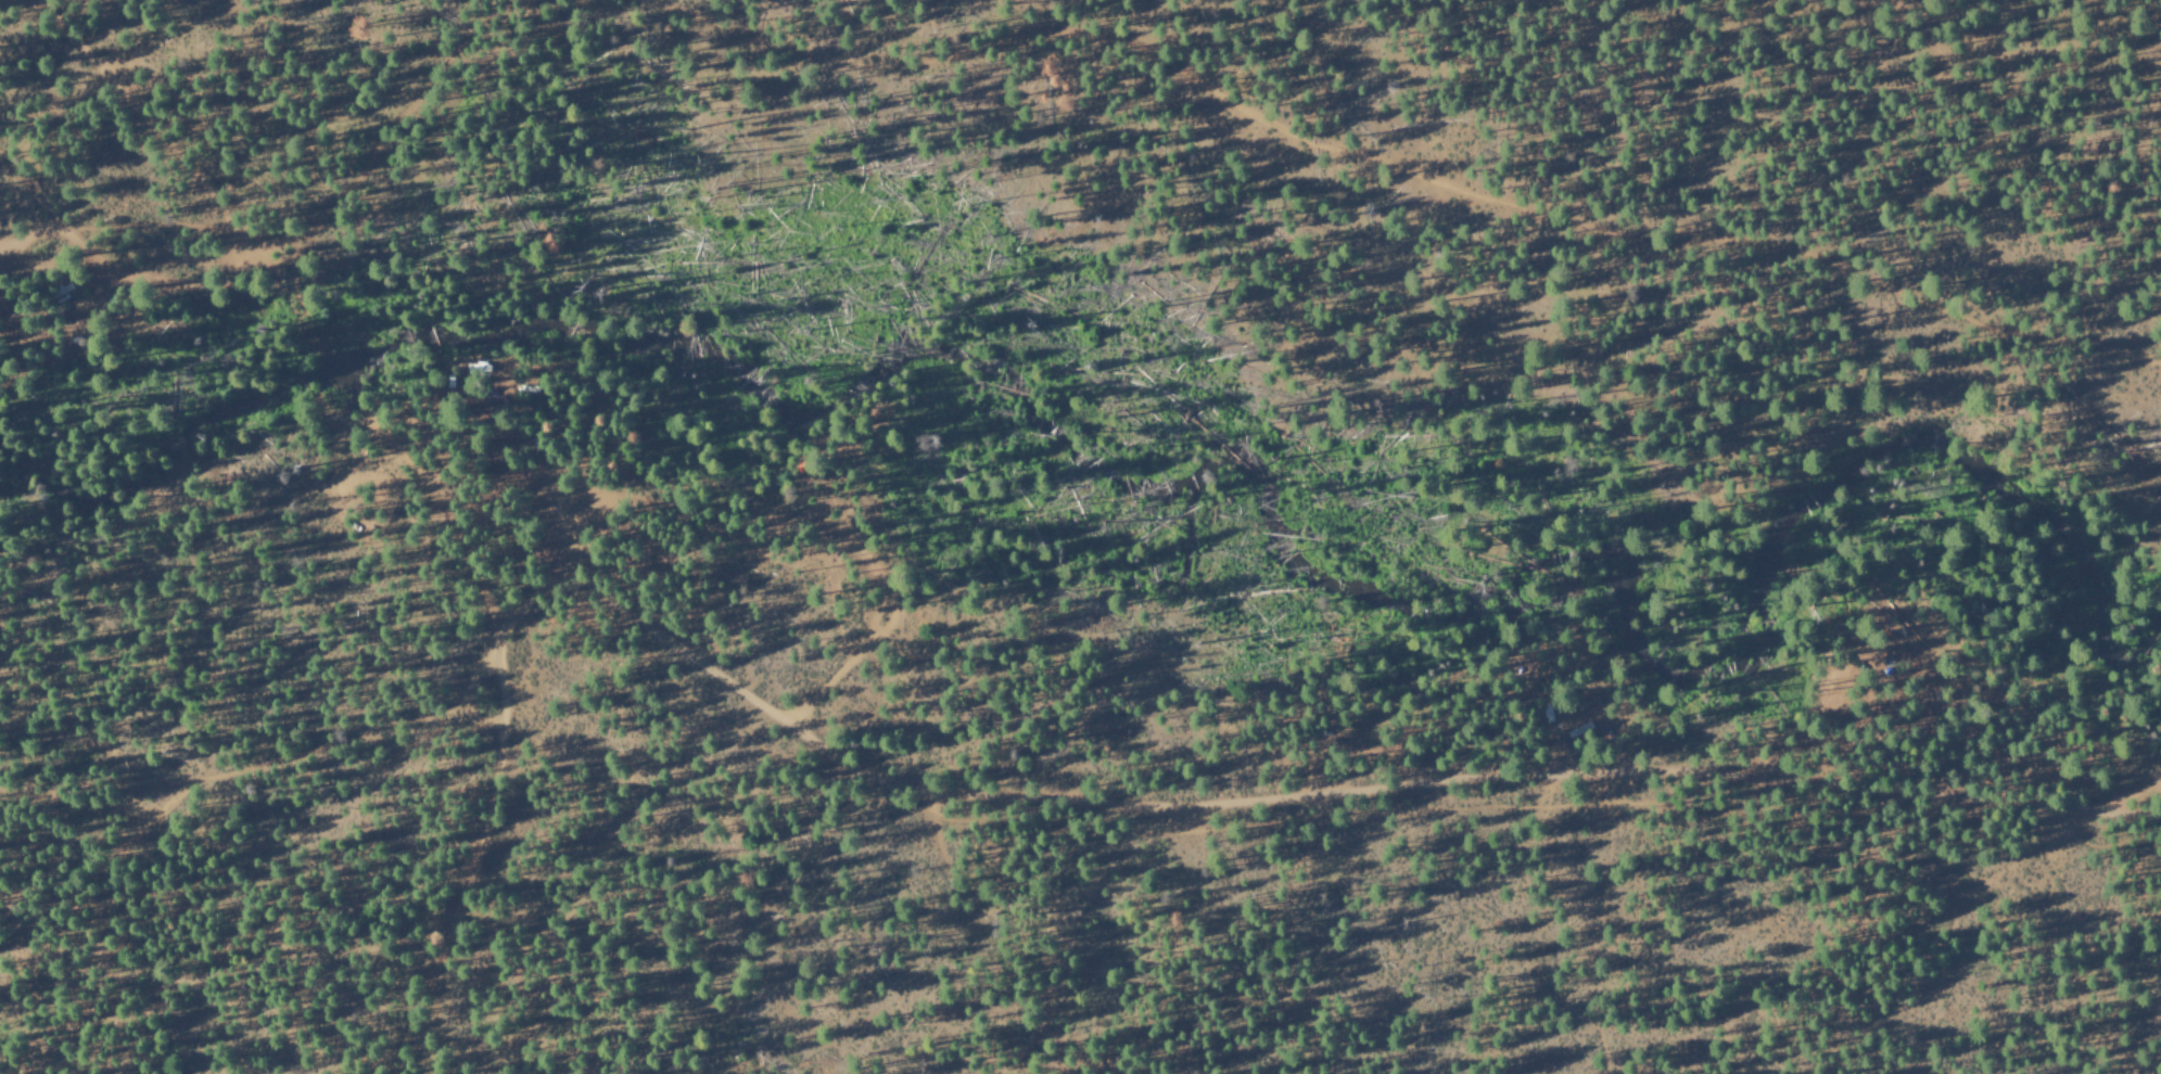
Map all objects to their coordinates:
road: (1034, 35)
road: (143, 120)
road: (1319, 790)
road: (472, 828)

